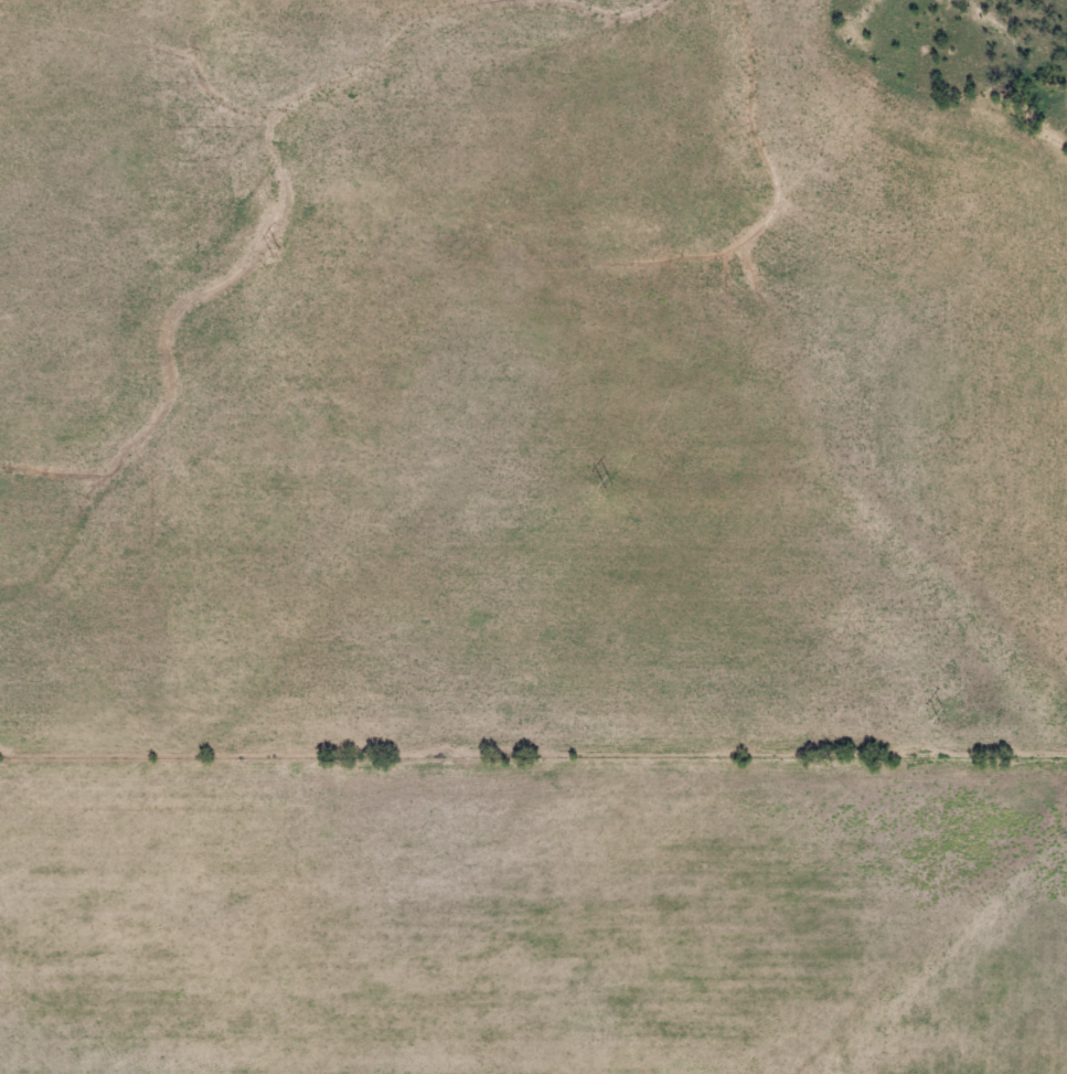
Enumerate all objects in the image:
power tower: (271, 249)
power tower: (604, 486)
power tower: (940, 717)

